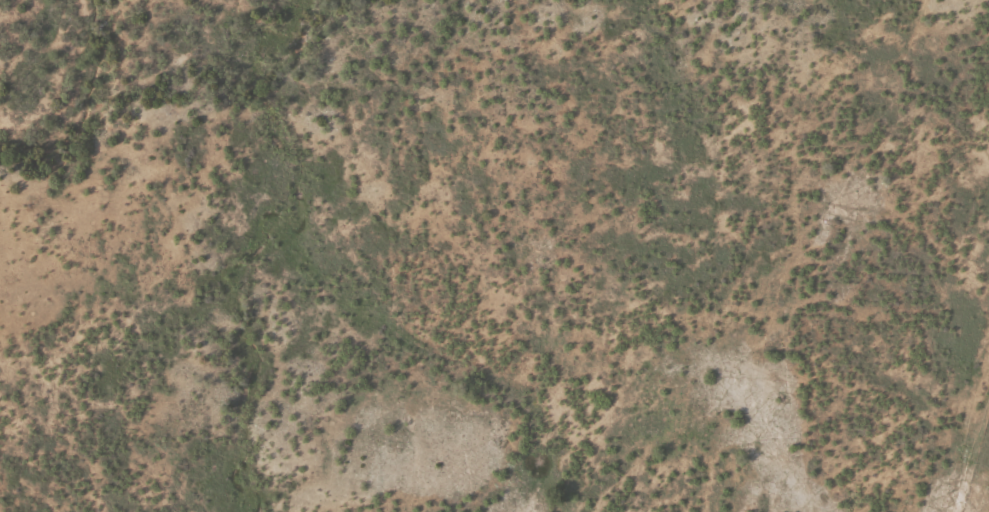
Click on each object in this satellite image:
road: (988, 511)

